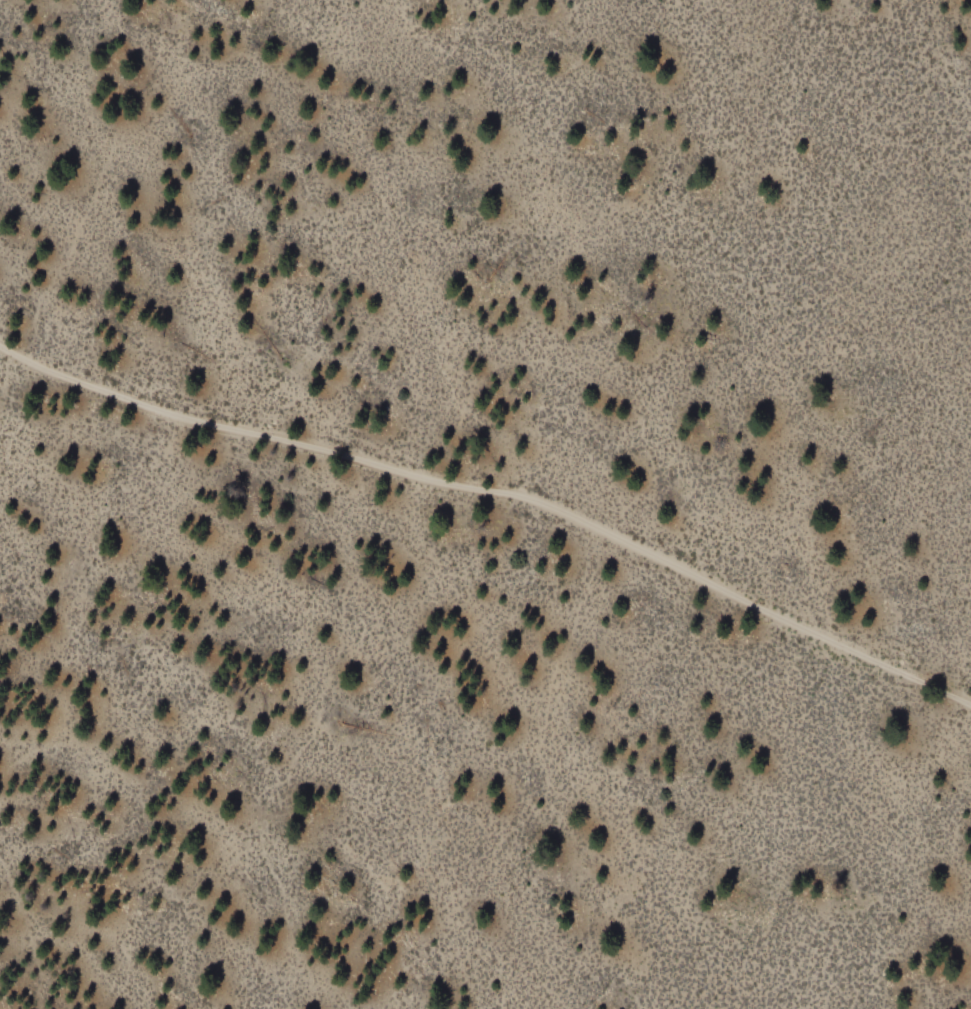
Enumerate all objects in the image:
road: (497, 498)

